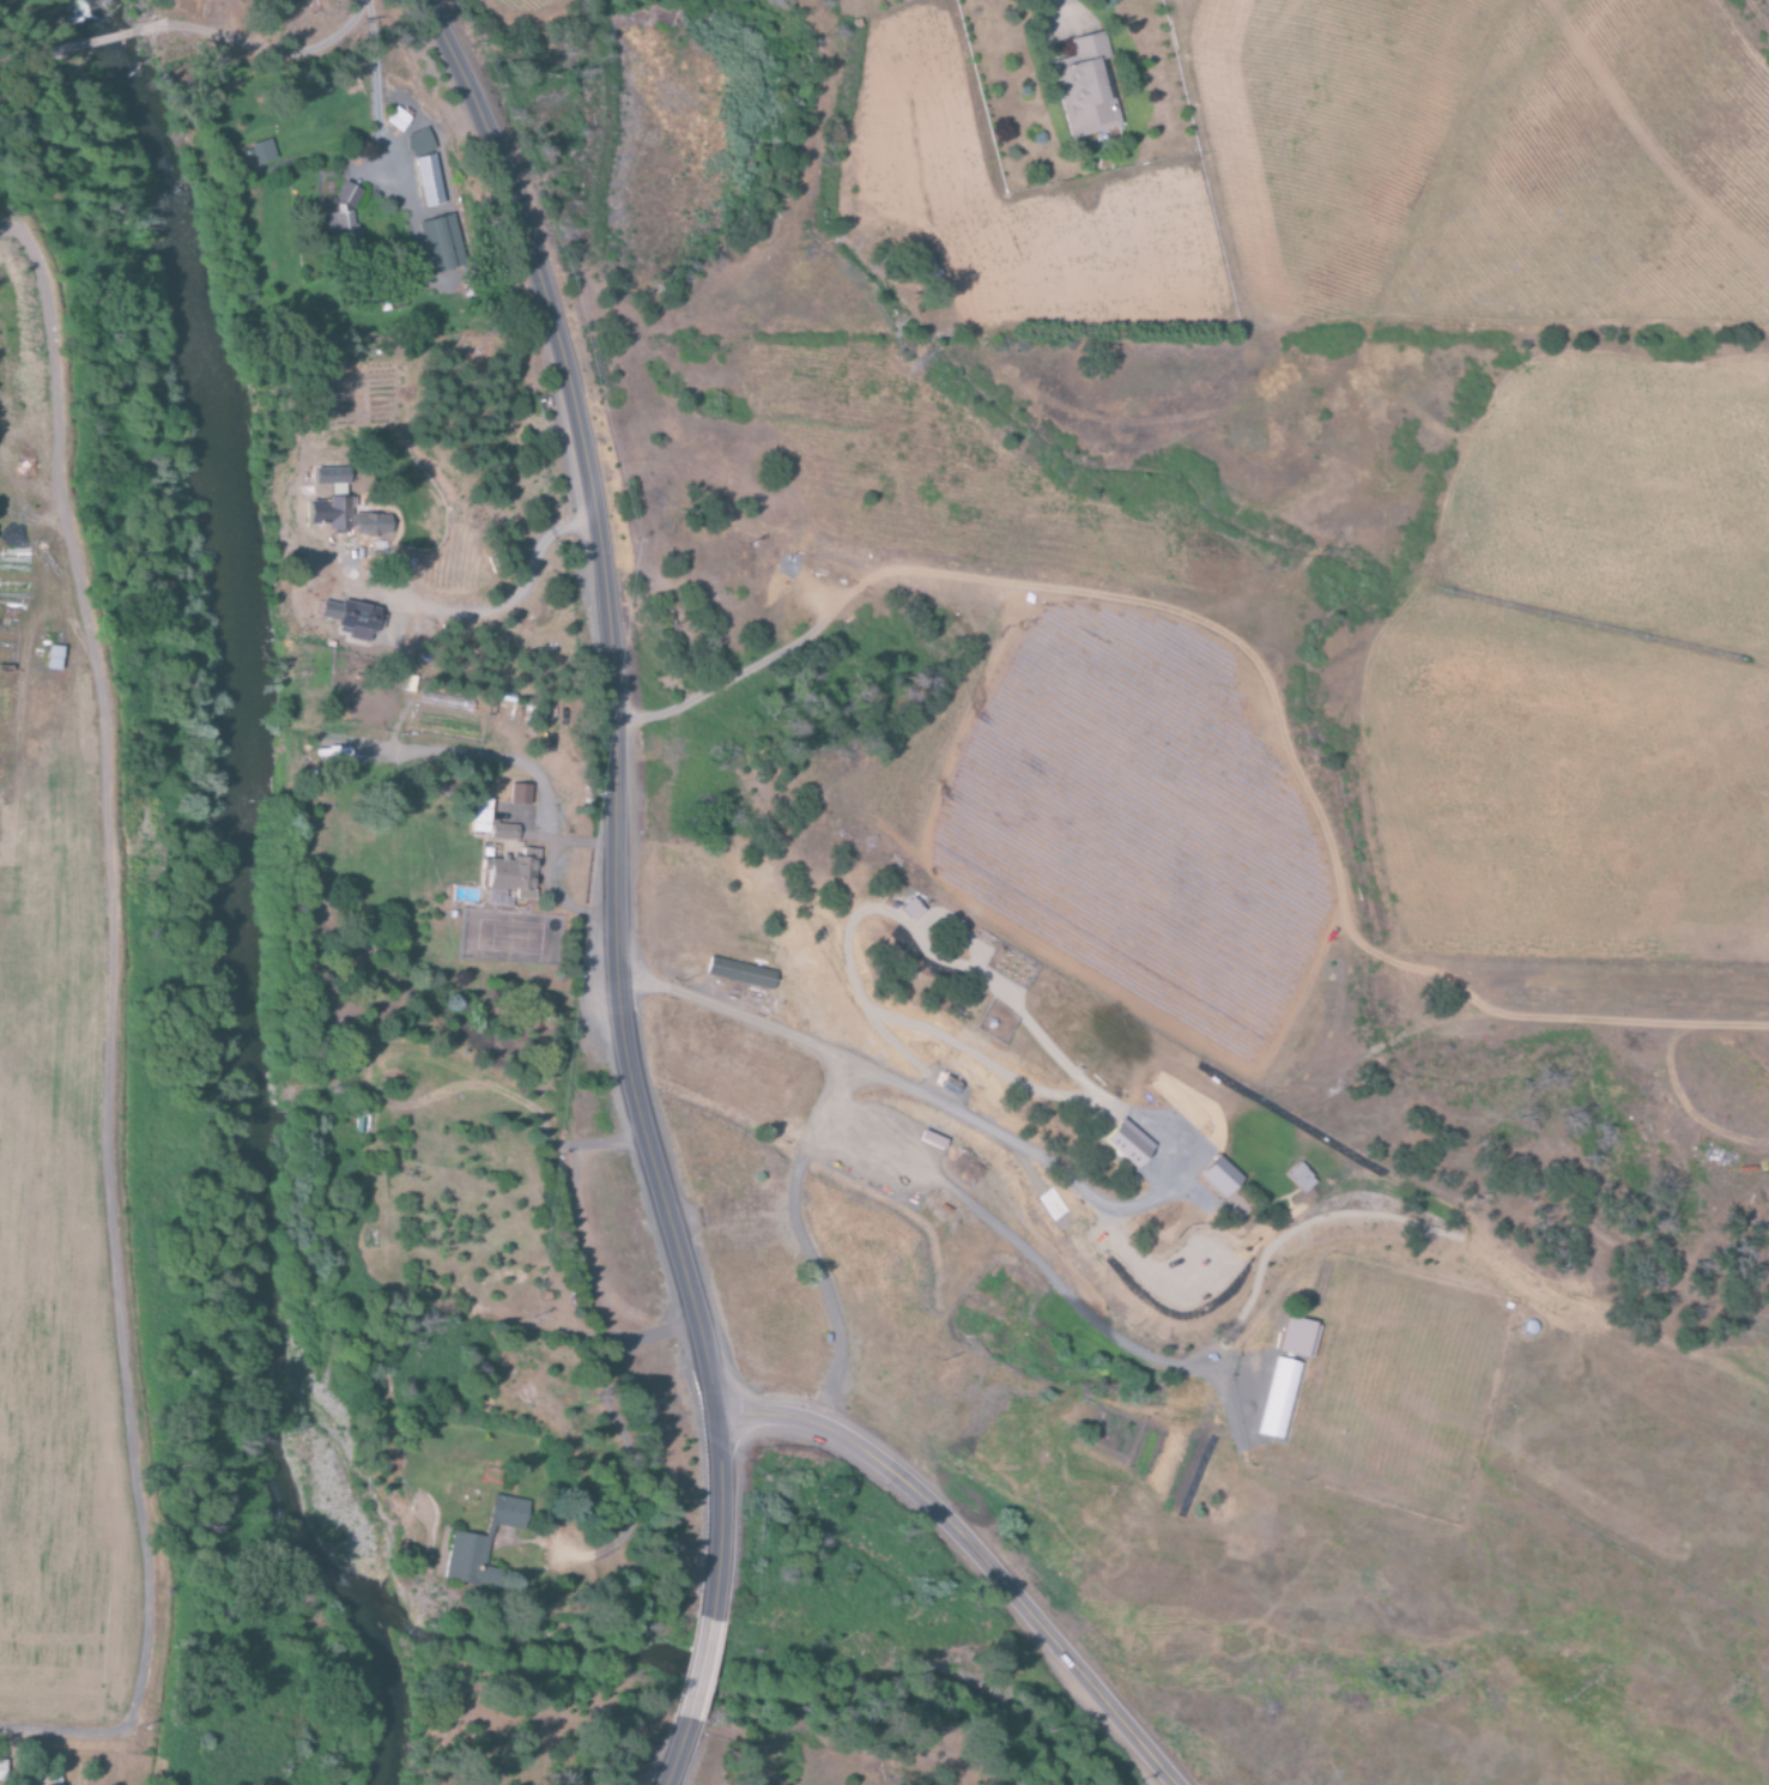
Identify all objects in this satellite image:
road: (99, 41)
road: (262, 54)
road: (29, 67)
building: (1084, 90)
building: (395, 120)
building: (418, 143)
building: (260, 152)
building: (428, 181)
building: (345, 195)
building: (343, 232)
building: (341, 510)
building: (350, 619)
building: (52, 658)
building: (519, 794)
road: (612, 795)
building: (478, 816)
river: (256, 818)
building: (502, 831)
building: (509, 878)
building: (909, 909)
building: (739, 973)
road: (1620, 1024)
road: (874, 1073)
building: (1218, 1176)
building: (1296, 1337)
building: (1280, 1398)
building: (479, 1541)
road: (976, 1555)
road: (710, 1670)
river: (737, 1681)
river: (383, 1707)
road: (681, 1759)
building: (0, 1769)
building: (41, 1780)

